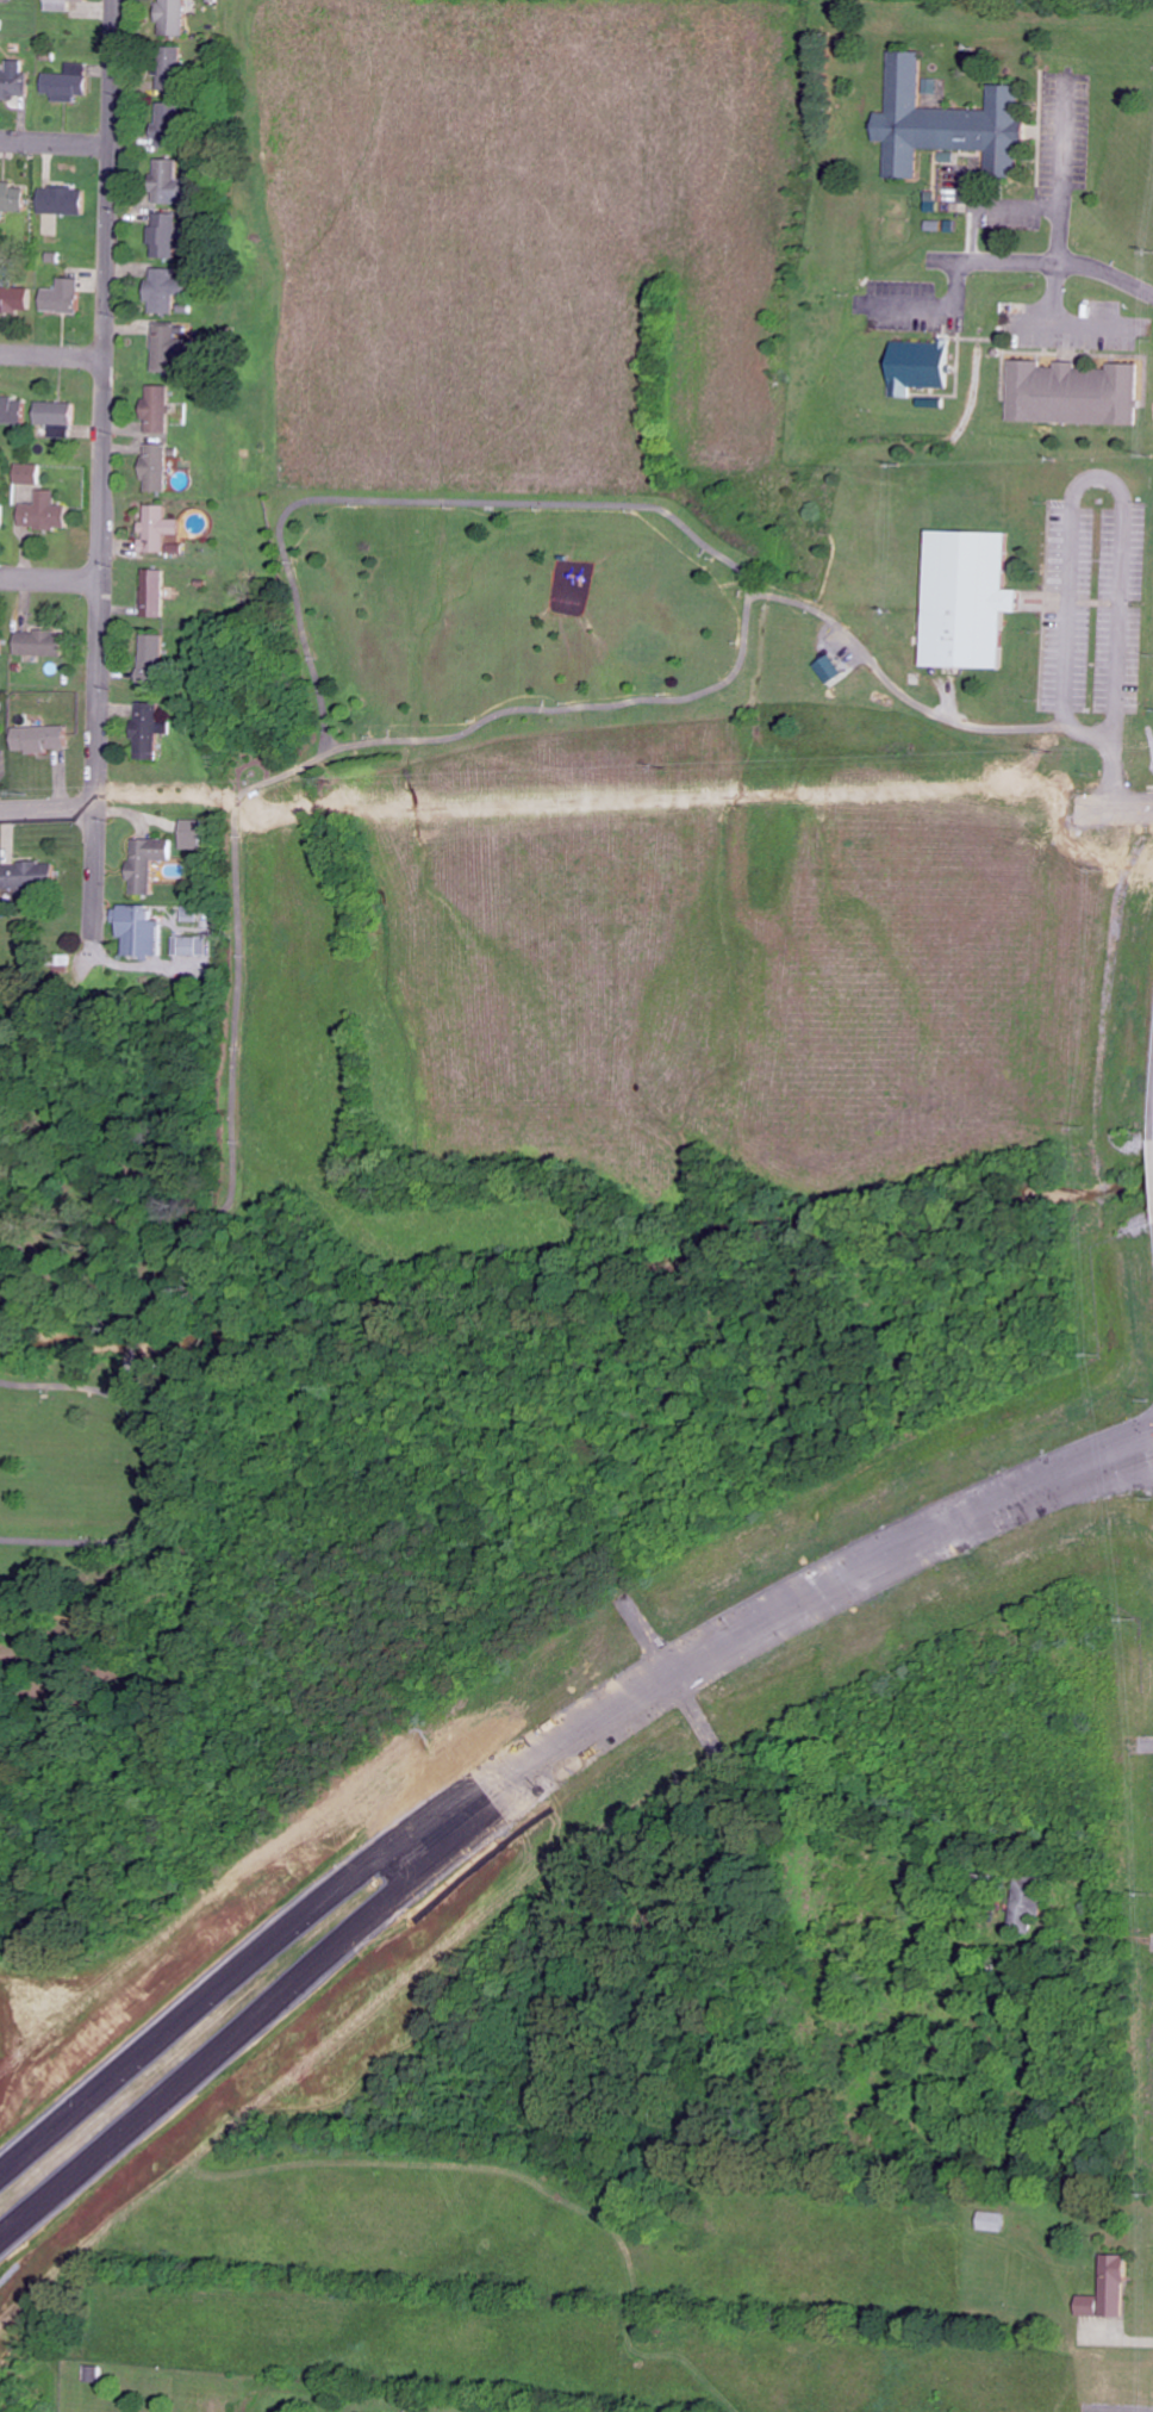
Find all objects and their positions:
building: (66, 4)
building: (175, 17)
building: (15, 82)
building: (69, 85)
road: (54, 141)
building: (14, 199)
building: (66, 201)
building: (166, 235)
building: (167, 291)
building: (64, 297)
building: (17, 298)
road: (54, 352)
building: (163, 406)
building: (1, 411)
building: (57, 414)
road: (105, 466)
building: (160, 468)
building: (33, 477)
building: (4, 512)
building: (48, 512)
building: (162, 528)
road: (51, 578)
building: (157, 592)
building: (4, 640)
building: (46, 642)
building: (157, 657)
building: (152, 731)
building: (1, 739)
building: (45, 739)
road: (1115, 804)
road: (49, 809)
building: (199, 835)
building: (152, 863)
building: (25, 876)
building: (144, 932)
building: (198, 945)
road: (783, 1608)
building: (1029, 1906)
road: (212, 1989)
road: (226, 2038)
building: (996, 2221)
building: (1120, 2280)

